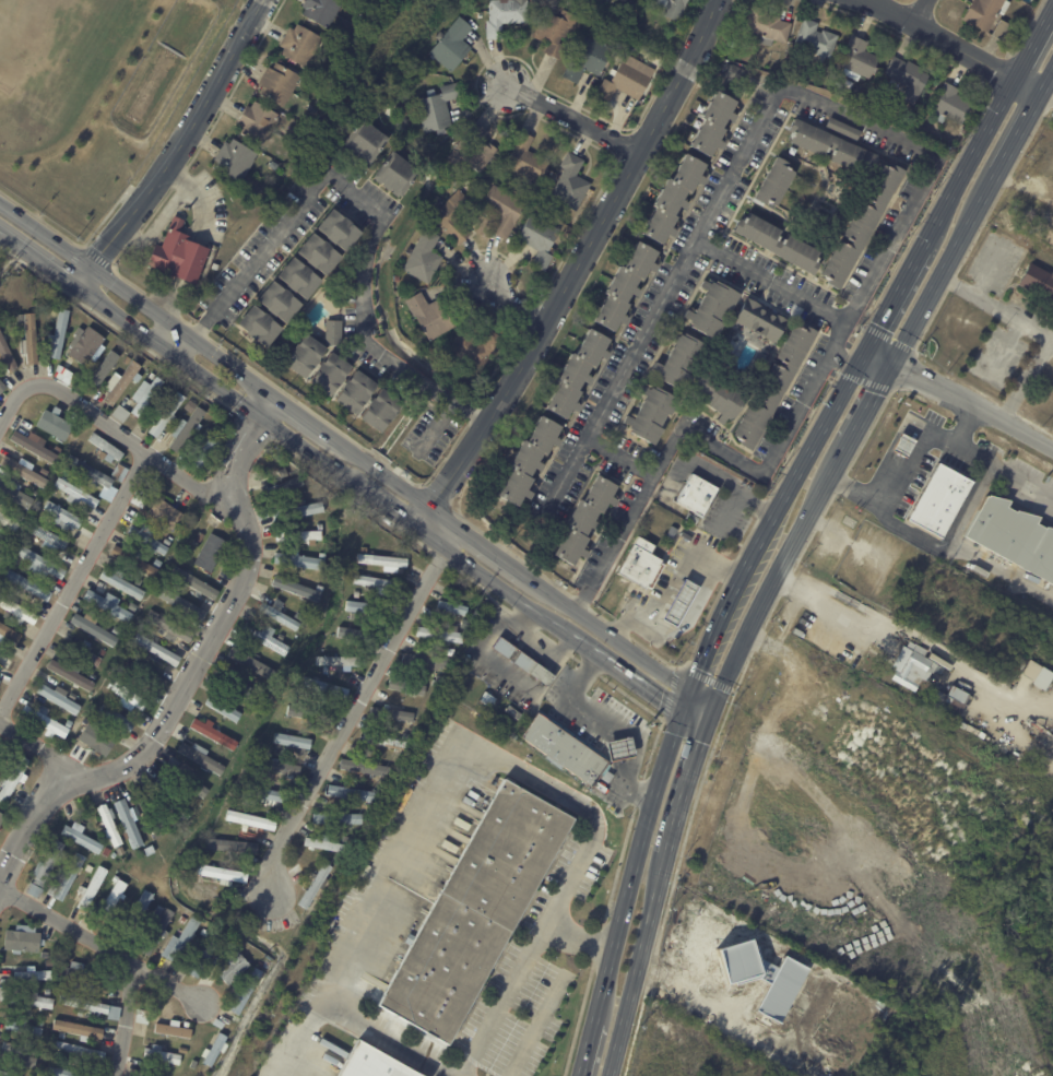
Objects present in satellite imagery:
building: (623, 0)
building: (673, 8)
building: (321, 10)
building: (360, 11)
road: (920, 12)
building: (985, 12)
building: (505, 15)
building: (678, 25)
building: (767, 26)
building: (1002, 29)
building: (555, 31)
building: (816, 39)
building: (731, 44)
building: (299, 45)
building: (451, 45)
road: (953, 45)
park: (51, 49)
building: (588, 59)
building: (857, 59)
building: (612, 72)
building: (736, 73)
building: (422, 74)
building: (908, 78)
building: (625, 82)
building: (279, 85)
building: (411, 87)
road: (1048, 92)
building: (293, 102)
building: (950, 105)
building: (437, 109)
road: (571, 119)
building: (257, 122)
building: (714, 123)
road: (987, 126)
building: (843, 129)
building: (963, 131)
building: (364, 142)
road: (178, 146)
building: (831, 147)
building: (473, 150)
building: (323, 158)
building: (234, 159)
building: (526, 159)
road: (928, 168)
building: (394, 175)
building: (570, 184)
building: (774, 185)
building: (129, 189)
building: (674, 199)
building: (504, 210)
road: (378, 211)
building: (453, 216)
road: (973, 216)
building: (861, 225)
building: (338, 228)
building: (1046, 228)
building: (539, 239)
building: (779, 245)
building: (211, 248)
building: (319, 253)
building: (177, 256)
road: (13, 257)
building: (423, 258)
road: (2, 262)
park: (2, 263)
building: (214, 267)
road: (576, 267)
building: (298, 276)
road: (771, 281)
road: (979, 283)
building: (1038, 284)
building: (625, 286)
road: (894, 296)
building: (279, 301)
road: (513, 306)
building: (32, 307)
building: (711, 310)
road: (1009, 312)
building: (429, 317)
building: (260, 324)
building: (761, 324)
building: (332, 330)
building: (59, 333)
building: (31, 339)
road: (184, 344)
building: (85, 345)
traffic signals: (866, 347)
building: (476, 350)
building: (429, 351)
building: (7, 353)
building: (303, 354)
building: (127, 359)
building: (681, 362)
traffic signals: (894, 363)
road: (855, 366)
building: (104, 367)
building: (329, 373)
building: (577, 374)
building: (152, 375)
building: (122, 381)
building: (1, 387)
building: (773, 388)
building: (354, 391)
building: (145, 394)
building: (719, 398)
road: (959, 399)
road: (267, 402)
road: (869, 402)
building: (190, 405)
building: (380, 410)
building: (120, 413)
building: (166, 413)
building: (651, 415)
building: (56, 424)
building: (212, 424)
road: (434, 427)
road: (114, 429)
building: (187, 430)
road: (346, 444)
building: (33, 446)
building: (904, 447)
building: (105, 448)
building: (206, 450)
road: (620, 457)
building: (529, 461)
road: (1006, 465)
road: (342, 469)
building: (23, 471)
road: (909, 471)
building: (91, 472)
building: (119, 472)
building: (283, 473)
building: (282, 488)
building: (56, 489)
building: (15, 493)
building: (76, 493)
building: (139, 497)
building: (699, 498)
building: (301, 500)
building: (940, 502)
building: (299, 510)
building: (165, 513)
road: (772, 517)
building: (62, 519)
building: (9, 520)
building: (585, 521)
building: (7, 536)
building: (200, 537)
building: (297, 537)
building: (1014, 537)
building: (49, 539)
building: (149, 539)
building: (167, 540)
building: (0, 543)
building: (28, 543)
building: (211, 553)
building: (134, 560)
building: (298, 560)
building: (381, 561)
building: (156, 563)
building: (40, 564)
building: (640, 565)
road: (773, 577)
road: (671, 580)
building: (138, 581)
building: (121, 583)
building: (196, 583)
building: (376, 583)
building: (4, 584)
road: (73, 584)
building: (178, 584)
building: (27, 586)
building: (297, 589)
road: (673, 591)
road: (665, 592)
building: (357, 593)
road: (684, 593)
road: (669, 600)
building: (679, 601)
road: (690, 602)
building: (181, 604)
building: (109, 605)
building: (132, 606)
building: (451, 607)
building: (371, 608)
road: (693, 608)
road: (676, 610)
road: (687, 610)
road: (827, 610)
building: (17, 611)
road: (223, 615)
building: (281, 615)
road: (690, 616)
building: (465, 623)
building: (94, 627)
building: (168, 627)
building: (117, 630)
building: (9, 632)
building: (441, 634)
building: (357, 635)
building: (270, 639)
building: (157, 649)
building: (451, 651)
building: (102, 652)
building: (85, 653)
building: (427, 660)
building: (4, 661)
building: (523, 661)
building: (336, 662)
building: (251, 663)
building: (914, 667)
building: (1029, 669)
building: (69, 674)
building: (146, 674)
building: (1041, 677)
building: (0, 678)
building: (0, 681)
building: (236, 684)
building: (313, 685)
building: (406, 687)
traffic signals: (690, 691)
building: (72, 695)
building: (127, 696)
road: (569, 697)
building: (59, 698)
building: (487, 699)
road: (686, 701)
building: (950, 702)
road: (700, 703)
building: (422, 706)
building: (294, 708)
building: (224, 709)
road: (351, 712)
building: (393, 712)
building: (512, 712)
traffic signals: (683, 712)
road: (697, 713)
building: (308, 714)
traffic signals: (711, 716)
building: (116, 718)
building: (45, 720)
building: (69, 723)
building: (213, 732)
building: (236, 734)
building: (405, 736)
building: (384, 740)
building: (96, 741)
building: (293, 741)
building: (279, 746)
building: (0, 747)
building: (619, 748)
building: (564, 749)
road: (486, 750)
road: (44, 754)
building: (202, 758)
building: (365, 768)
building: (276, 769)
building: (13, 779)
building: (186, 779)
road: (687, 783)
building: (351, 792)
building: (262, 794)
building: (168, 795)
building: (611, 800)
building: (17, 802)
building: (185, 803)
building: (617, 805)
building: (151, 813)
road: (31, 814)
building: (2, 818)
building: (161, 819)
building: (336, 819)
building: (250, 820)
building: (130, 823)
building: (108, 824)
building: (81, 837)
building: (323, 843)
building: (234, 847)
building: (146, 851)
building: (106, 852)
building: (114, 855)
building: (45, 868)
building: (90, 868)
building: (222, 874)
building: (67, 878)
building: (317, 885)
building: (93, 888)
road: (626, 892)
building: (114, 896)
building: (158, 911)
building: (474, 911)
building: (138, 913)
building: (184, 921)
building: (158, 932)
building: (205, 933)
road: (577, 939)
building: (23, 941)
building: (180, 942)
road: (102, 944)
building: (205, 956)
road: (637, 963)
building: (262, 967)
building: (232, 969)
building: (34, 974)
building: (84, 977)
building: (780, 988)
building: (47, 991)
building: (247, 991)
building: (35, 998)
road: (700, 1003)
building: (92, 1007)
road: (126, 1016)
building: (142, 1017)
building: (43, 1022)
building: (218, 1022)
road: (535, 1022)
building: (23, 1028)
building: (79, 1029)
building: (175, 1029)
road: (382, 1036)
building: (61, 1037)
building: (215, 1049)
building: (182, 1050)
building: (79, 1051)
building: (56, 1054)
building: (16, 1055)
building: (162, 1055)
building: (368, 1062)
building: (61, 1063)
building: (193, 1064)
building: (62, 1072)
building: (3, 1074)
building: (147, 1075)

